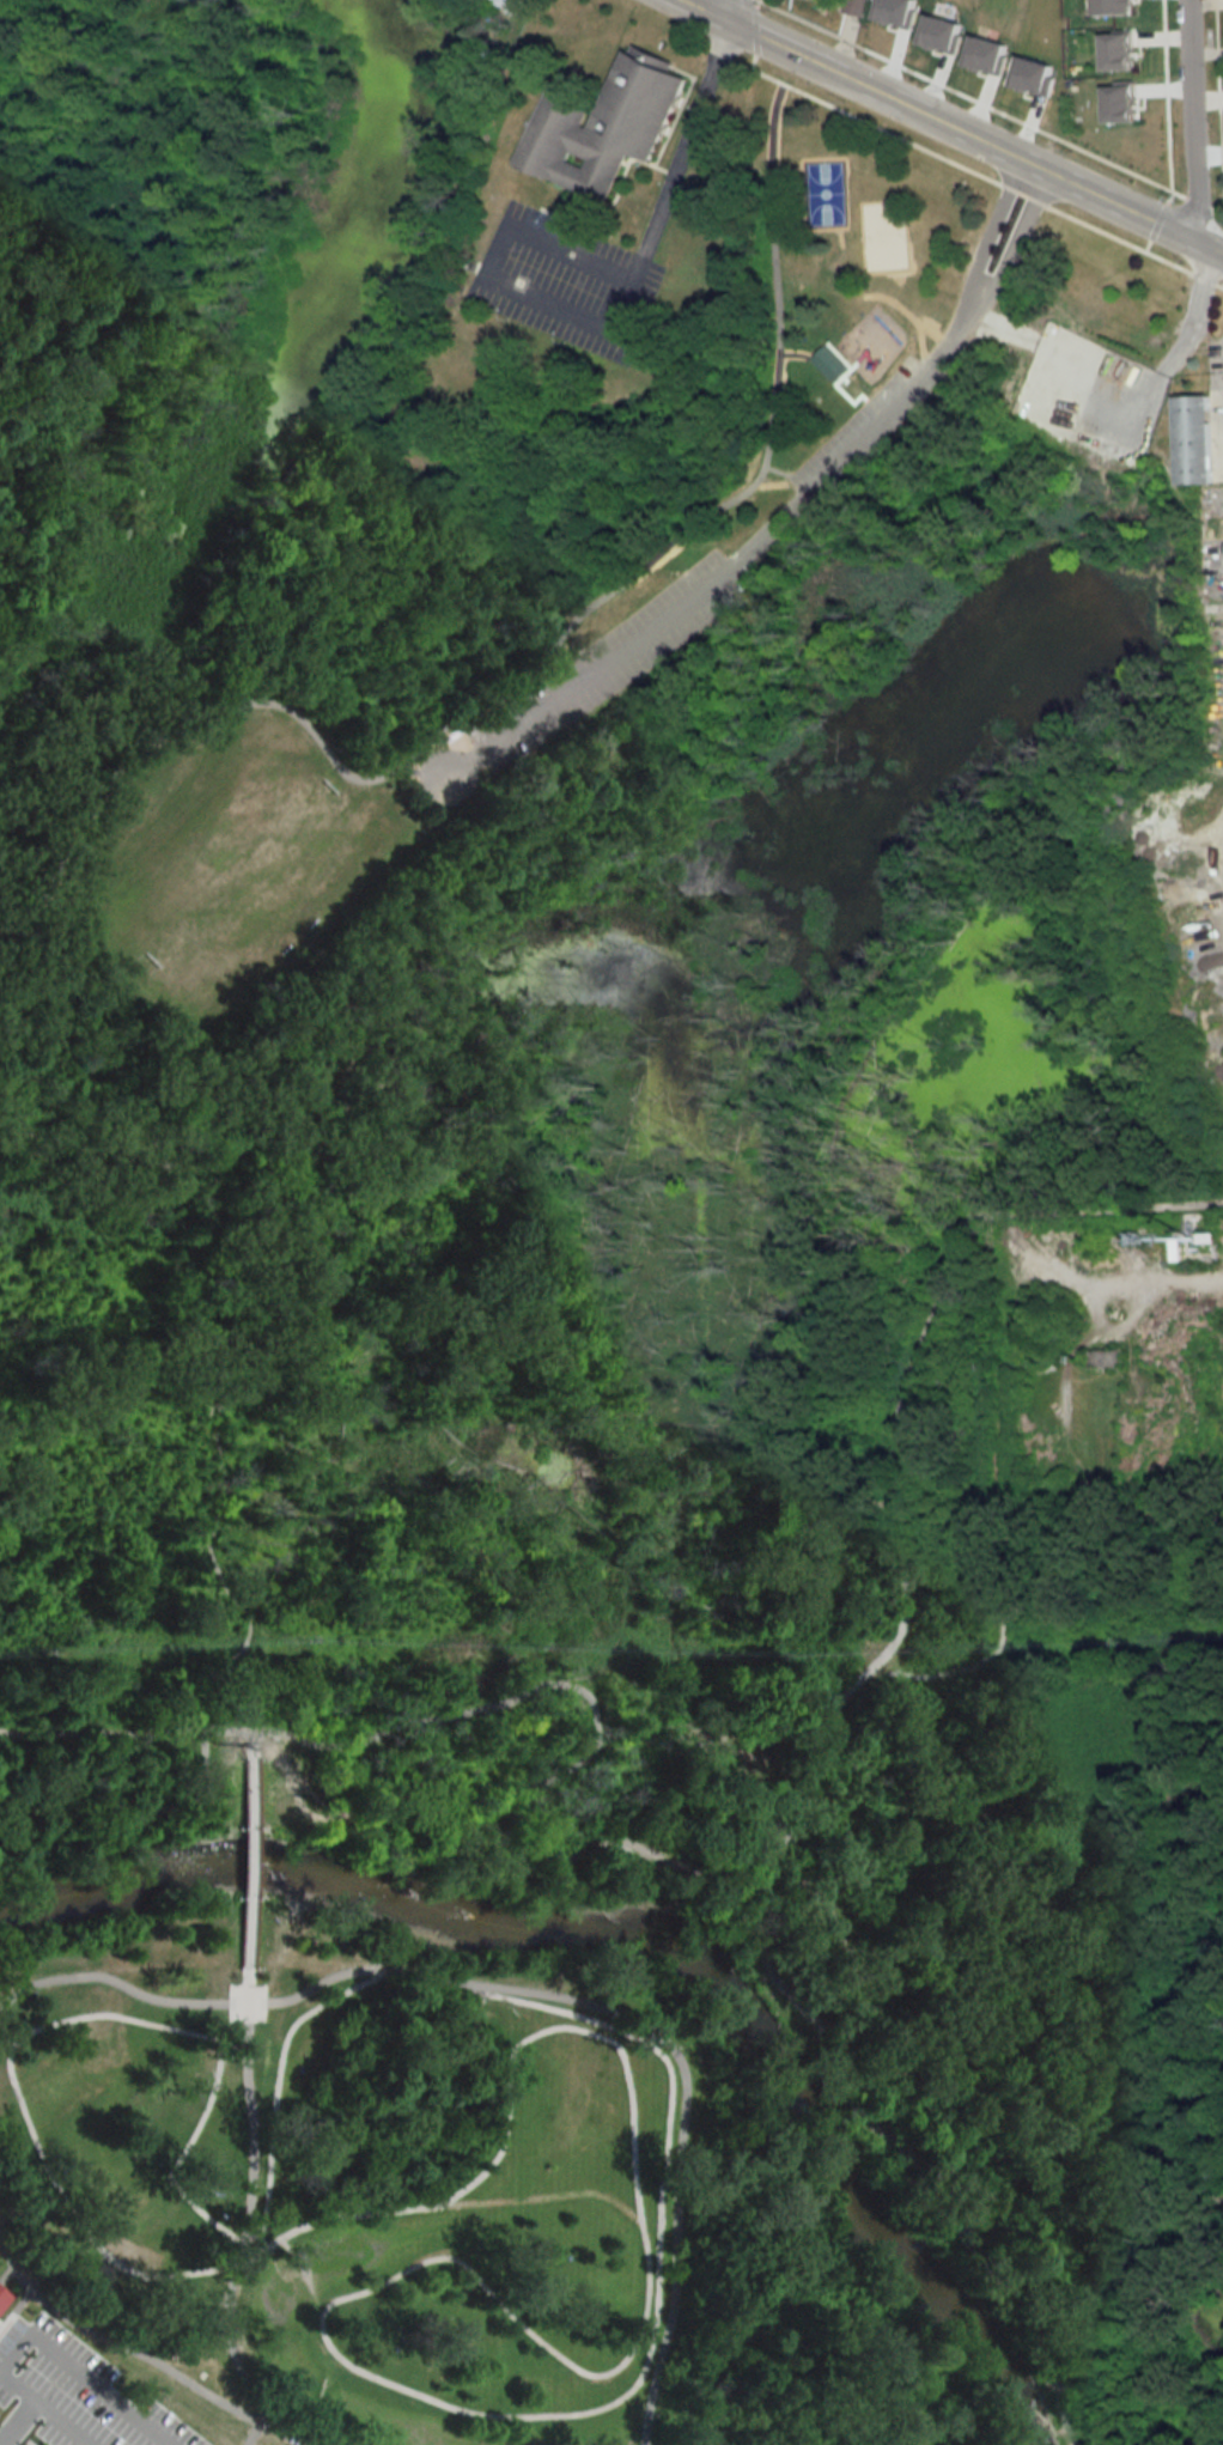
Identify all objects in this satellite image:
building: (853, 6)
road: (723, 12)
road: (987, 108)
road: (1188, 120)
road: (945, 126)
building: (601, 127)
road: (1167, 128)
road: (968, 171)
park: (823, 191)
road: (986, 241)
road: (1009, 253)
parking lot: (566, 285)
road: (609, 337)
road: (1182, 341)
building: (828, 364)
road: (822, 372)
road: (864, 397)
parking lot: (860, 428)
building: (1194, 440)
road: (766, 454)
road: (787, 476)
building: (1212, 534)
park: (712, 556)
road: (723, 573)
parking lot: (607, 663)
road: (211, 718)
road: (421, 776)
park: (235, 872)
road: (7, 985)
road: (1107, 1210)
building: (1219, 1316)
building: (1100, 1360)
road: (205, 1398)
park: (582, 1538)
road: (786, 1565)
road: (909, 1569)
road: (1049, 1602)
road: (516, 1697)
road: (85, 1735)
road: (248, 1741)
road: (172, 1808)
road: (343, 1818)
road: (248, 1861)
road: (785, 1885)
river: (635, 1946)
road: (517, 2009)
road: (50, 2025)
road: (834, 2046)
road: (1094, 2079)
park: (357, 2191)
road: (546, 2196)
road: (249, 2213)
road: (5, 2276)
building: (2, 2299)
road: (12, 2309)
road: (139, 2361)
road: (80, 2376)
road: (388, 2383)
parking lot: (69, 2395)
road: (649, 2404)
road: (42, 2411)
road: (17, 2425)
road: (281, 2440)

